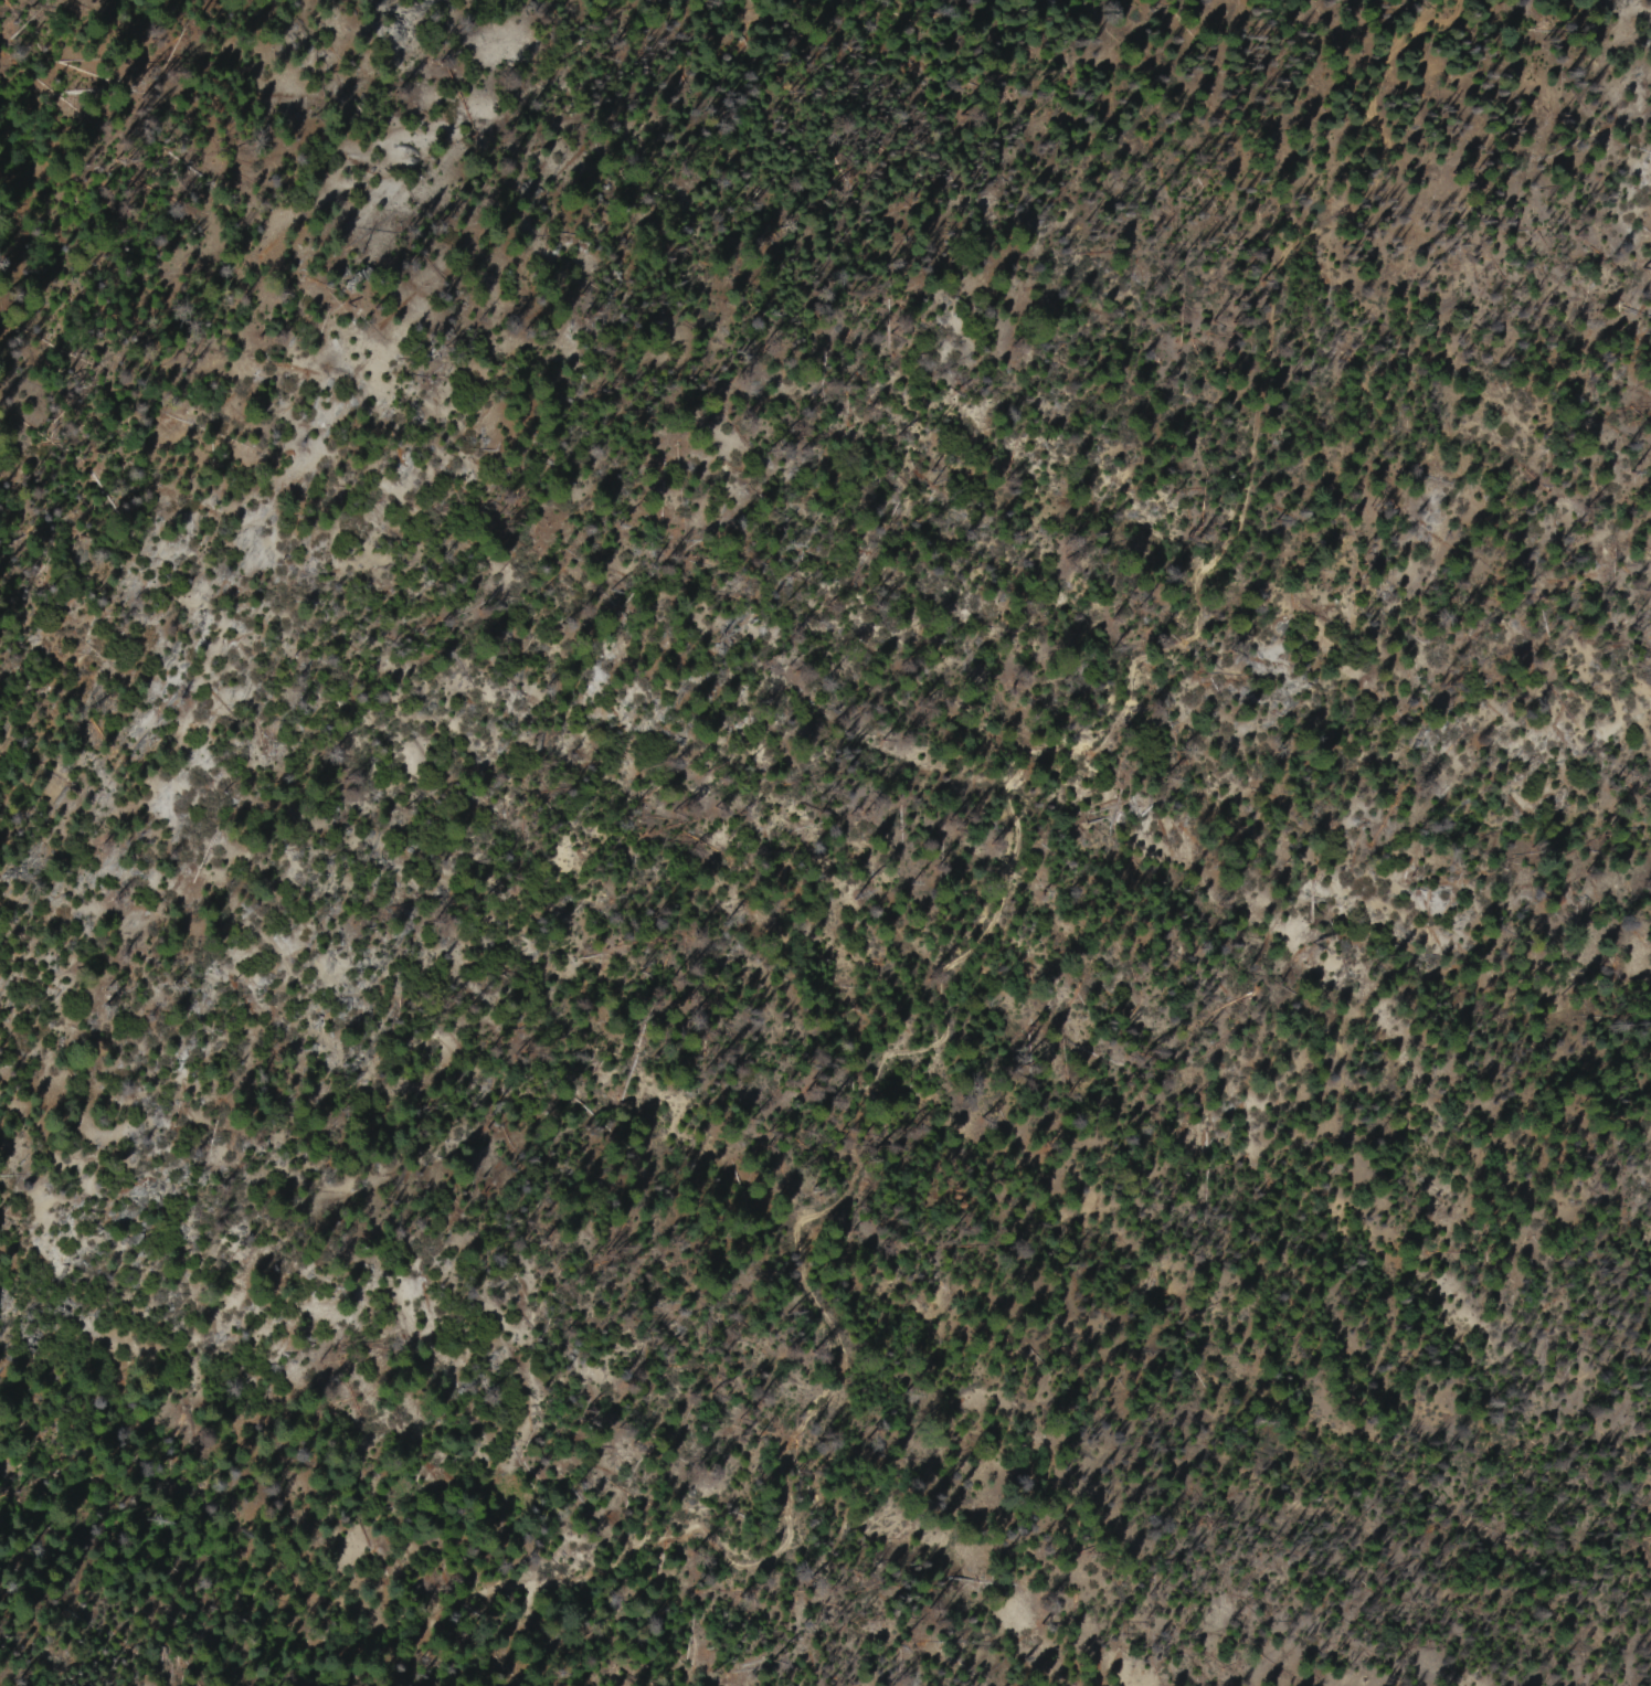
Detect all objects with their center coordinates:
road: (948, 964)

